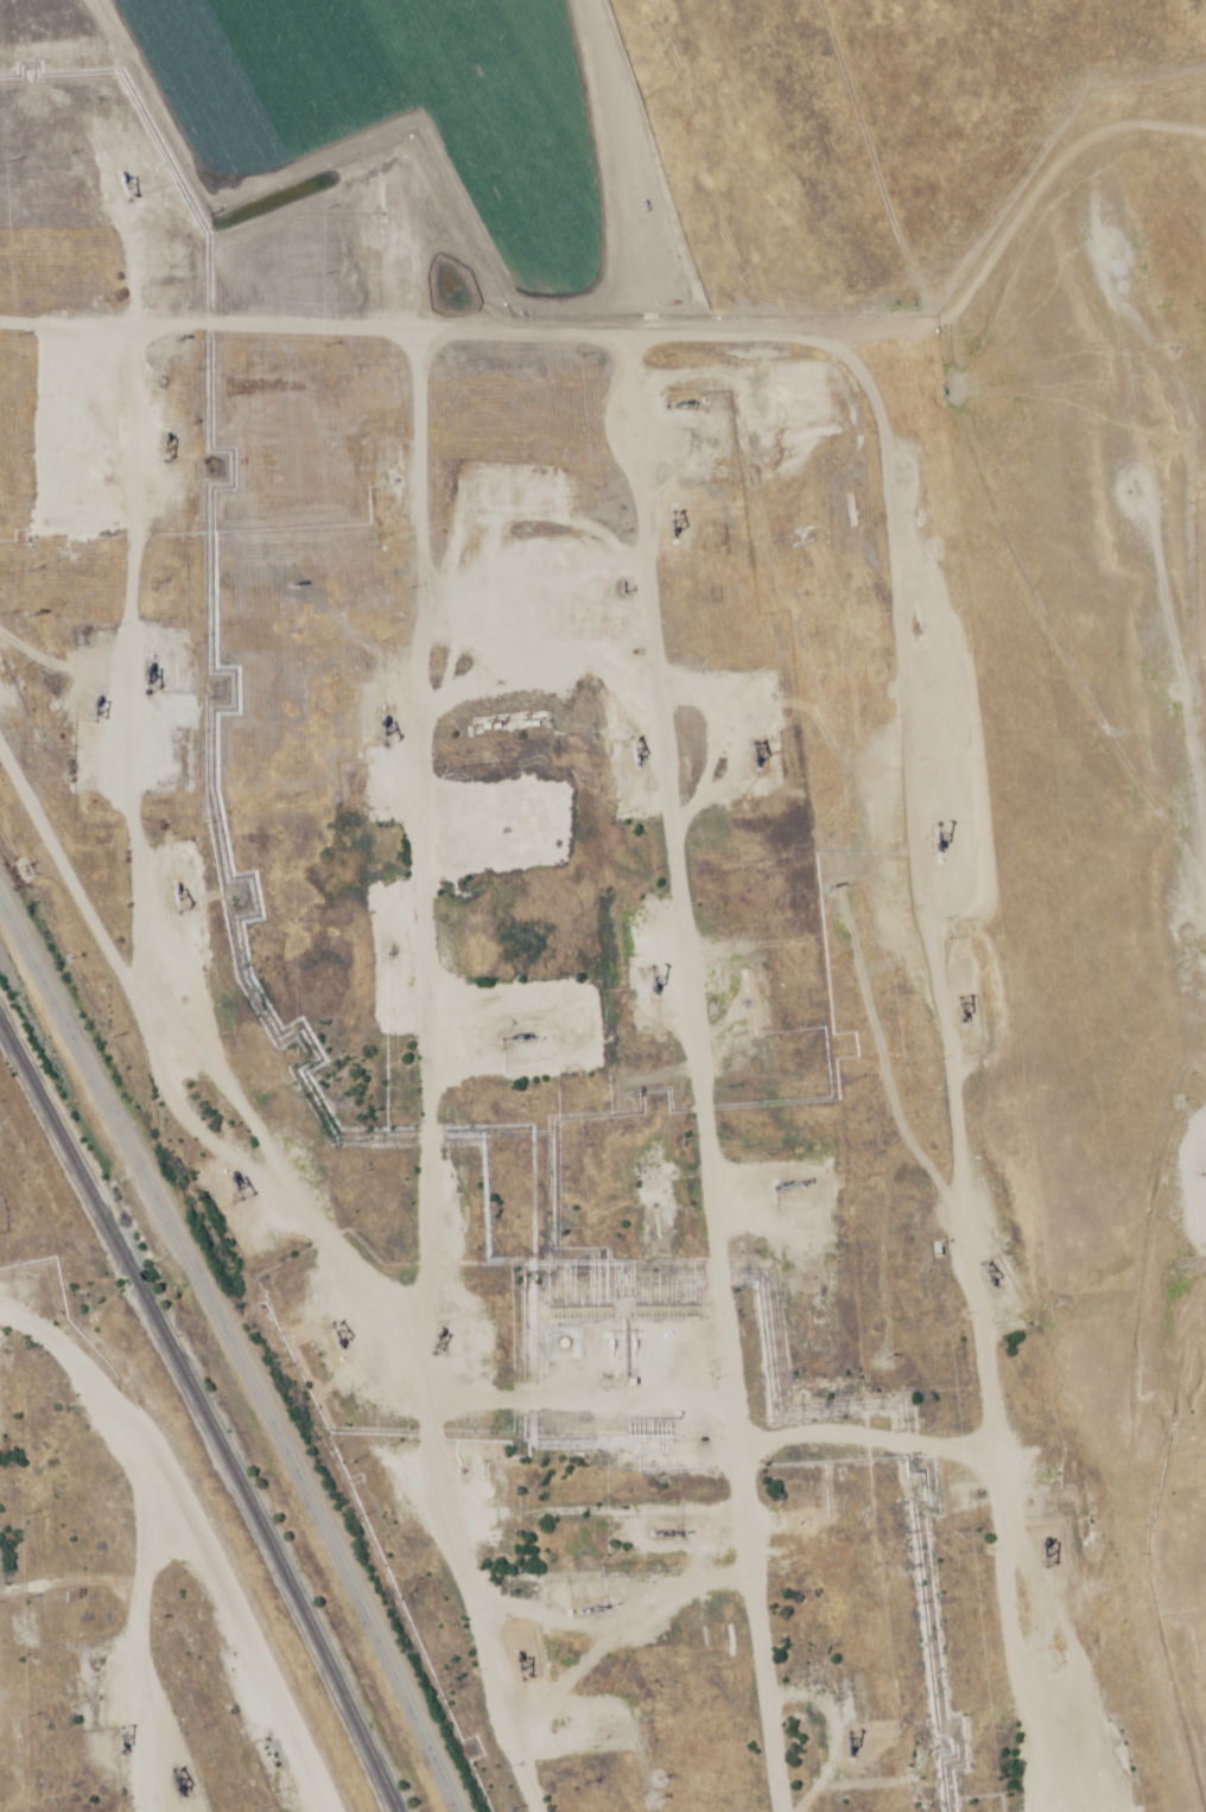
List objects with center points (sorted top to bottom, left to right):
crop: (391, 106)
road: (274, 351)
road: (63, 545)
road: (1179, 694)
road: (361, 831)
road: (883, 974)
road: (659, 1082)
road: (298, 1247)
road: (230, 1356)
railway: (202, 1413)
road: (829, 1460)
road: (620, 1614)
road: (107, 1621)
road: (101, 1715)

